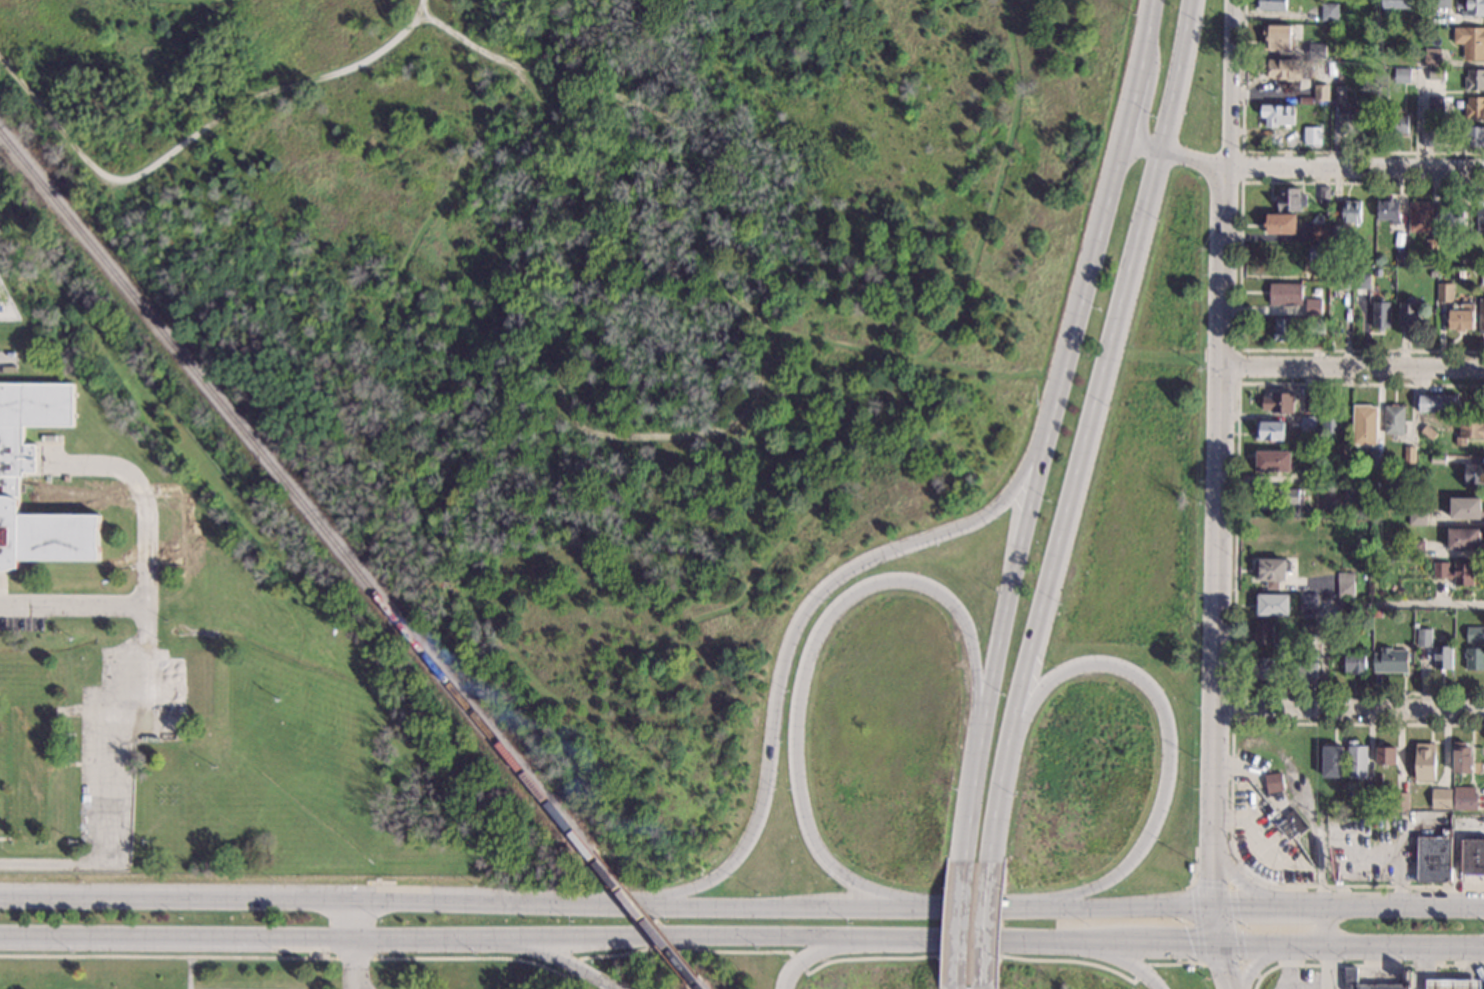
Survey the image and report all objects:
building: (1399, 4)
building: (1438, 4)
building: (1272, 5)
building: (1470, 8)
building: (1328, 12)
road: (1144, 31)
road: (460, 37)
road: (552, 37)
building: (1277, 37)
building: (1329, 38)
building: (1470, 41)
building: (1383, 45)
building: (1317, 50)
building: (1432, 56)
building: (1283, 68)
building: (1372, 71)
building: (1436, 74)
building: (1402, 75)
building: (1474, 80)
road: (1231, 83)
building: (1321, 92)
building: (1340, 94)
road: (1134, 103)
building: (1436, 104)
building: (1474, 108)
building: (1278, 114)
building: (1396, 121)
building: (1372, 122)
building: (1348, 123)
road: (195, 135)
building: (1312, 135)
building: (1473, 136)
building: (1427, 139)
road: (1287, 150)
road: (1179, 154)
road: (1242, 166)
road: (1357, 167)
road: (998, 187)
building: (1324, 194)
building: (1290, 199)
building: (1389, 210)
building: (1351, 211)
building: (1452, 215)
building: (1480, 216)
building: (1420, 217)
building: (1280, 224)
building: (1320, 231)
building: (1337, 233)
building: (1400, 239)
building: (1431, 247)
building: (1321, 256)
building: (1398, 260)
building: (1483, 261)
building: (1478, 262)
road: (1239, 267)
building: (1345, 273)
building: (1433, 273)
building: (1482, 274)
building: (1363, 281)
building: (1445, 292)
building: (1286, 293)
building: (1313, 308)
building: (1381, 314)
building: (1408, 314)
building: (1482, 316)
building: (1460, 318)
building: (1316, 326)
building: (1285, 328)
road: (1238, 350)
road: (1204, 355)
road: (1353, 367)
road: (977, 372)
building: (1278, 402)
building: (1438, 403)
building: (1310, 405)
building: (1331, 419)
building: (1394, 419)
building: (1309, 423)
road: (1090, 426)
building: (1364, 426)
road: (1044, 429)
building: (1470, 429)
building: (1270, 430)
road: (715, 431)
building: (1428, 431)
building: (1344, 449)
building: (1409, 454)
building: (1438, 458)
building: (1375, 459)
building: (1273, 461)
building: (1474, 474)
building: (12, 475)
building: (1309, 476)
building: (1346, 477)
railway: (295, 492)
building: (1350, 492)
building: (1289, 496)
building: (1465, 507)
building: (1417, 516)
building: (1266, 524)
road: (1220, 534)
building: (1463, 538)
road: (1235, 541)
building: (1414, 547)
building: (1272, 571)
building: (1455, 572)
road: (145, 576)
building: (1292, 584)
building: (1345, 588)
building: (1308, 602)
road: (1351, 603)
building: (1273, 604)
building: (1344, 616)
building: (1415, 625)
building: (1308, 627)
building: (1263, 632)
road: (793, 634)
building: (1474, 634)
building: (1423, 637)
building: (126, 640)
building: (175, 646)
building: (1442, 656)
road: (805, 658)
building: (1474, 658)
building: (1390, 660)
building: (1354, 662)
building: (1263, 667)
building: (1307, 669)
road: (533, 680)
building: (198, 681)
road: (1351, 707)
road: (1232, 709)
road: (1168, 740)
building: (27, 742)
building: (177, 746)
building: (148, 749)
building: (1390, 756)
building: (1462, 758)
building: (1357, 759)
building: (1332, 760)
building: (1425, 762)
road: (111, 777)
building: (1380, 777)
building: (1456, 779)
road: (972, 782)
building: (1274, 782)
road: (1230, 795)
building: (1441, 798)
building: (1401, 800)
building: (1464, 801)
building: (1369, 802)
building: (1297, 820)
building: (1288, 828)
building: (1473, 856)
building: (1434, 857)
road: (1195, 871)
road: (1235, 877)
traffic signals: (1214, 880)
road: (1241, 881)
road: (1399, 882)
road: (332, 899)
road: (789, 904)
traffic signals: (1240, 904)
road: (1062, 905)
road: (1348, 905)
road: (957, 916)
road: (349, 918)
railway: (644, 918)
road: (987, 919)
road: (1215, 922)
road: (1236, 926)
road: (254, 936)
road: (813, 937)
road: (1168, 941)
traffic signals: (1189, 941)
road: (1351, 943)
road: (683, 947)
road: (1331, 947)
road: (809, 954)
road: (969, 955)
road: (285, 957)
road: (1126, 960)
road: (1258, 962)
road: (358, 963)
road: (559, 963)
road: (796, 963)
road: (1176, 964)
road: (1223, 965)
road: (1364, 966)
road: (573, 968)
building: (1189, 968)
traffic signals: (1225, 970)
park: (272, 971)
road: (1251, 971)
road: (189, 973)
road: (1141, 973)
building: (1350, 975)
building: (1453, 983)
railway: (700, 986)
road: (985, 987)
road: (986, 987)
road: (953, 988)

